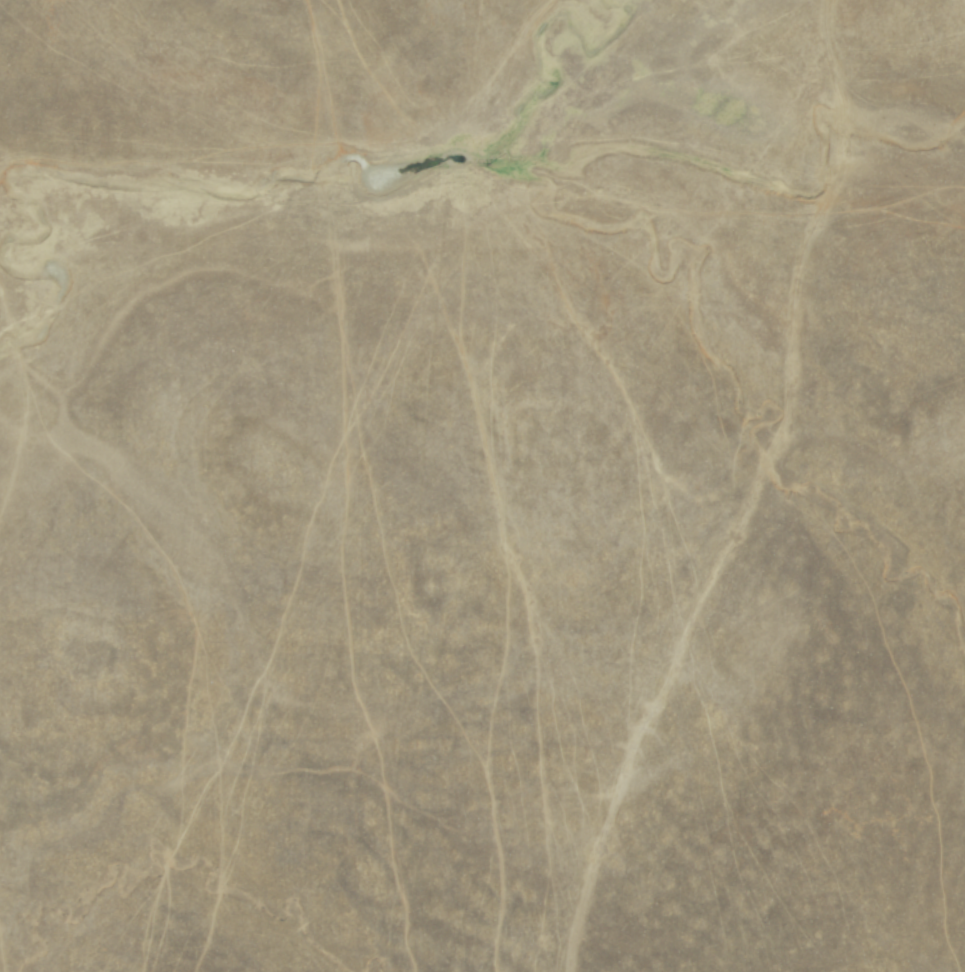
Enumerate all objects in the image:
road: (750, 492)

